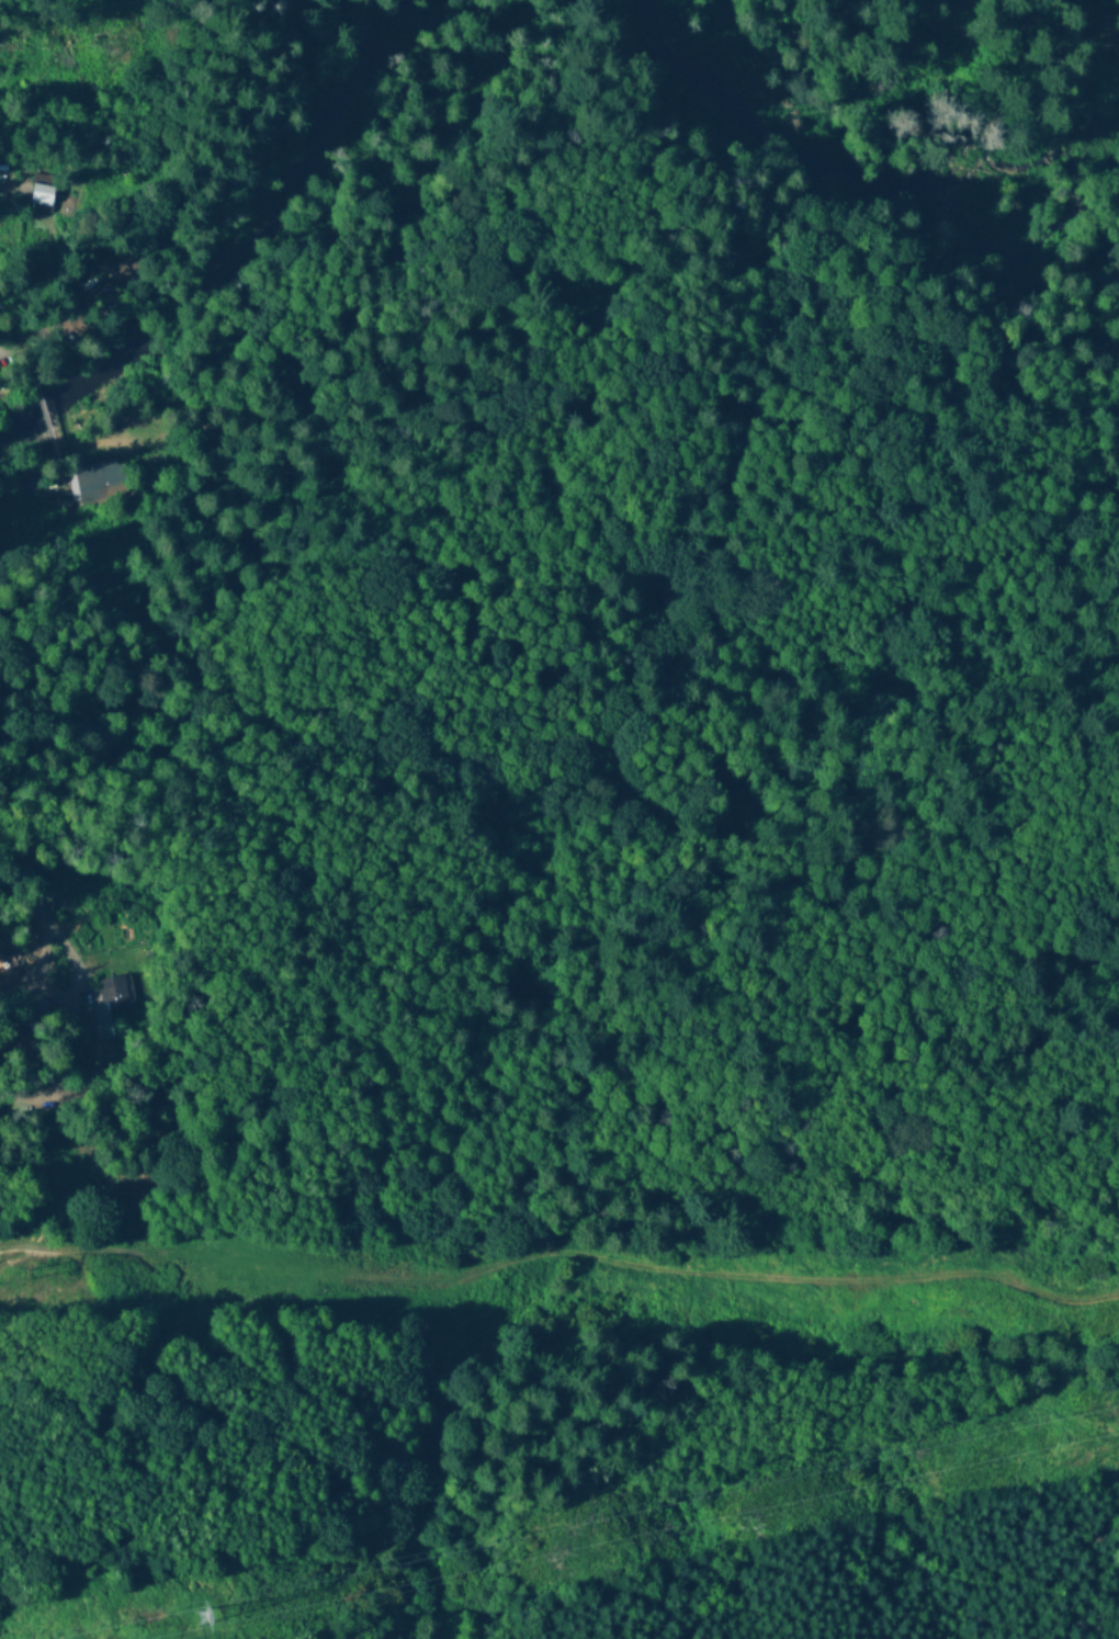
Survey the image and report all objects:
building: (41, 196)
building: (99, 484)
building: (116, 998)
road: (558, 1252)
power tower: (27, 1275)
power tower: (204, 1617)

